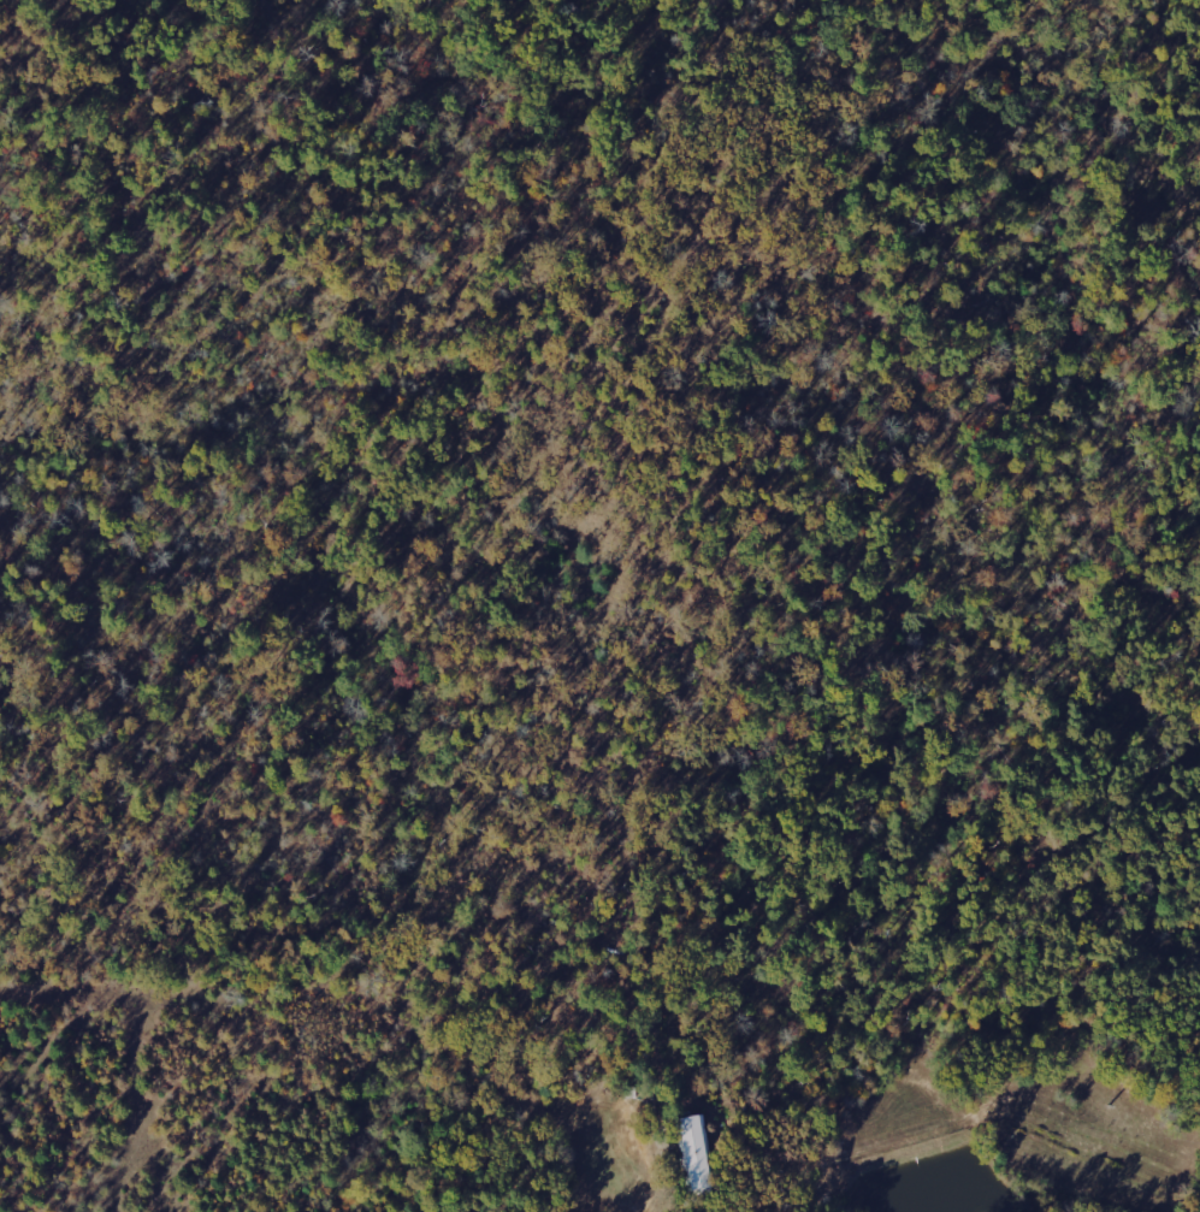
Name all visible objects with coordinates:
building: (693, 1151)

